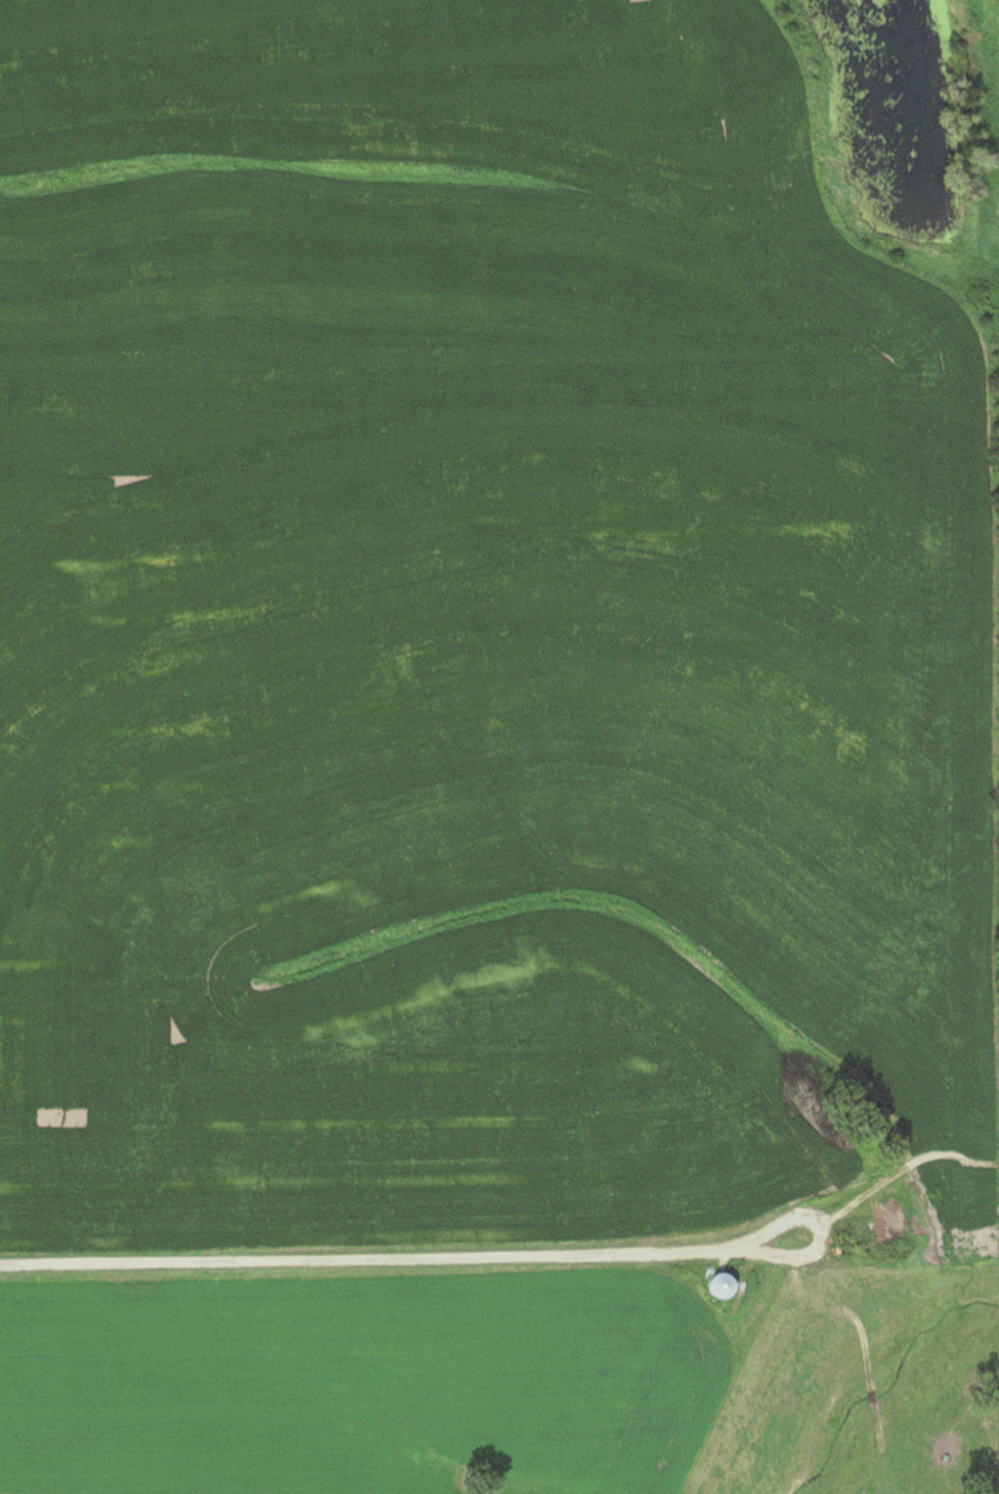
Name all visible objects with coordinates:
road: (826, 1233)
road: (361, 1259)
building: (725, 1288)

